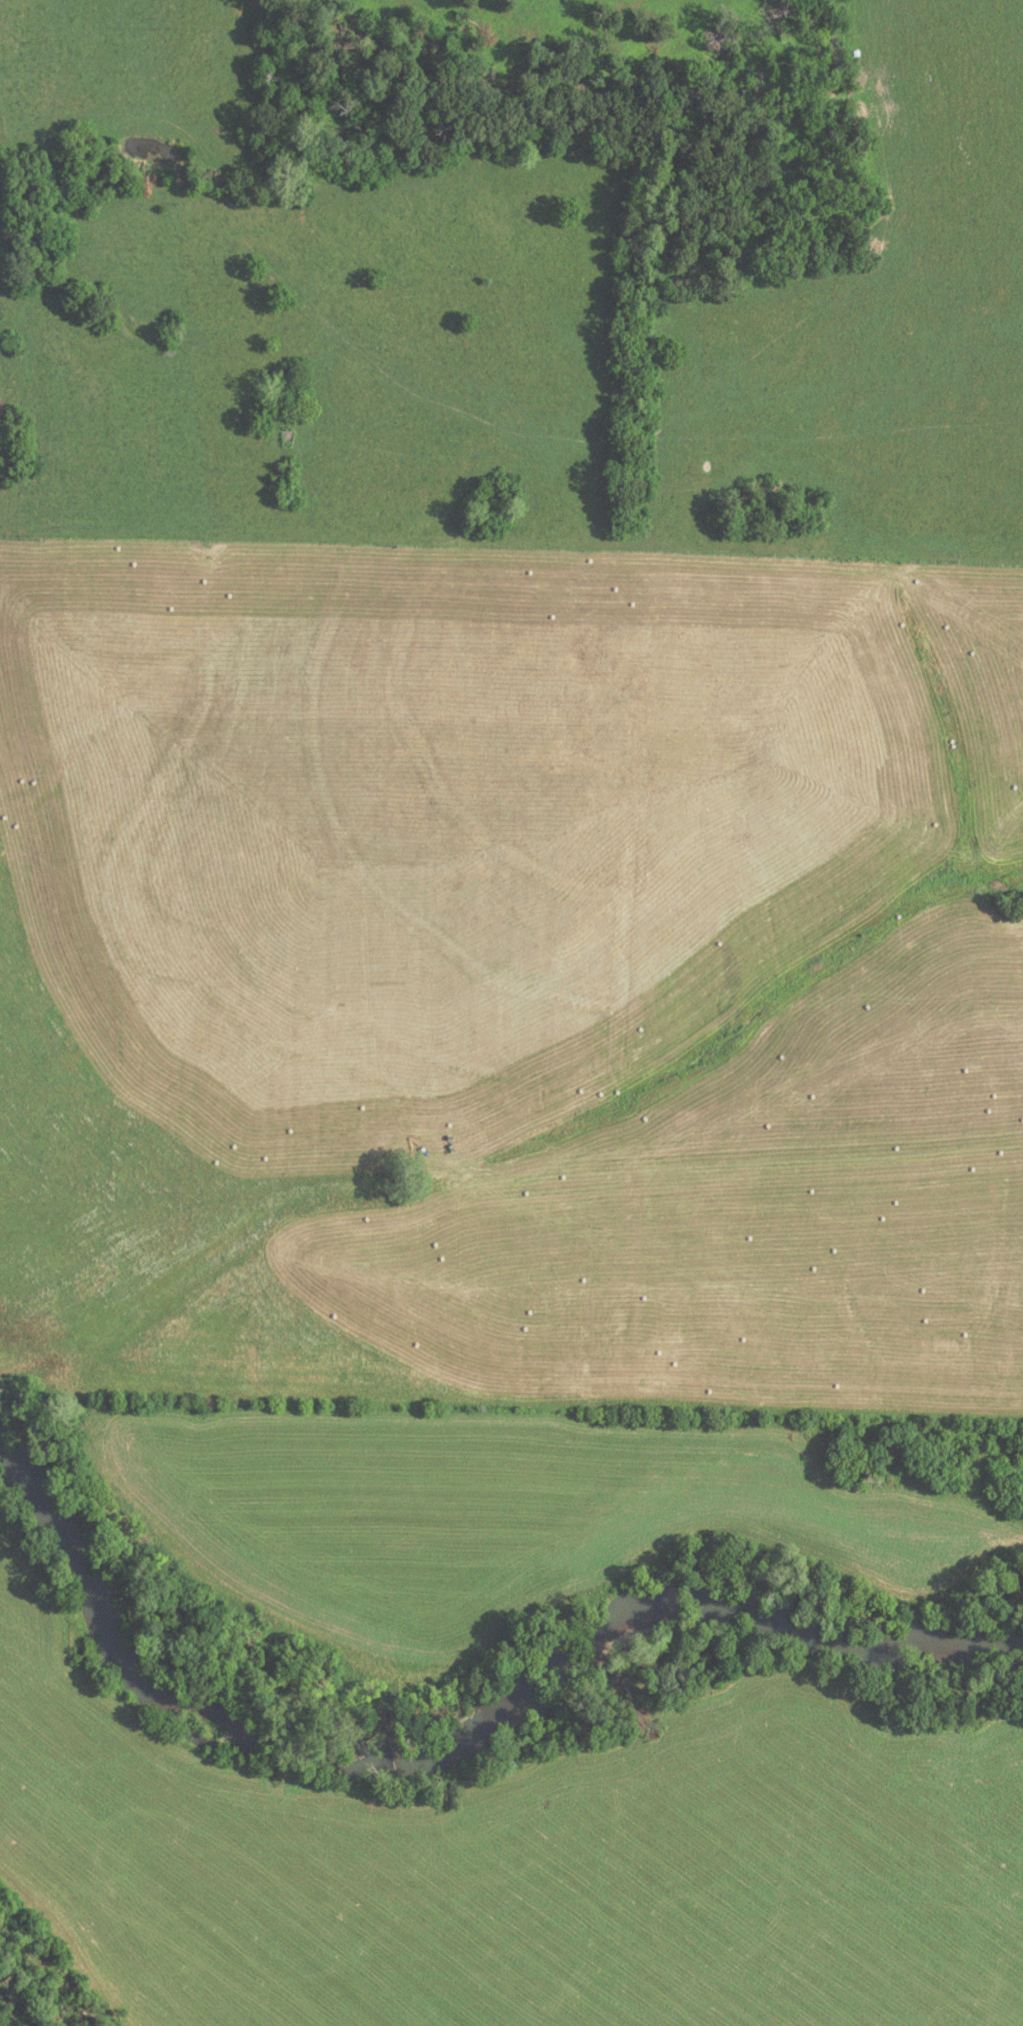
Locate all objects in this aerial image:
river: (462, 1729)

